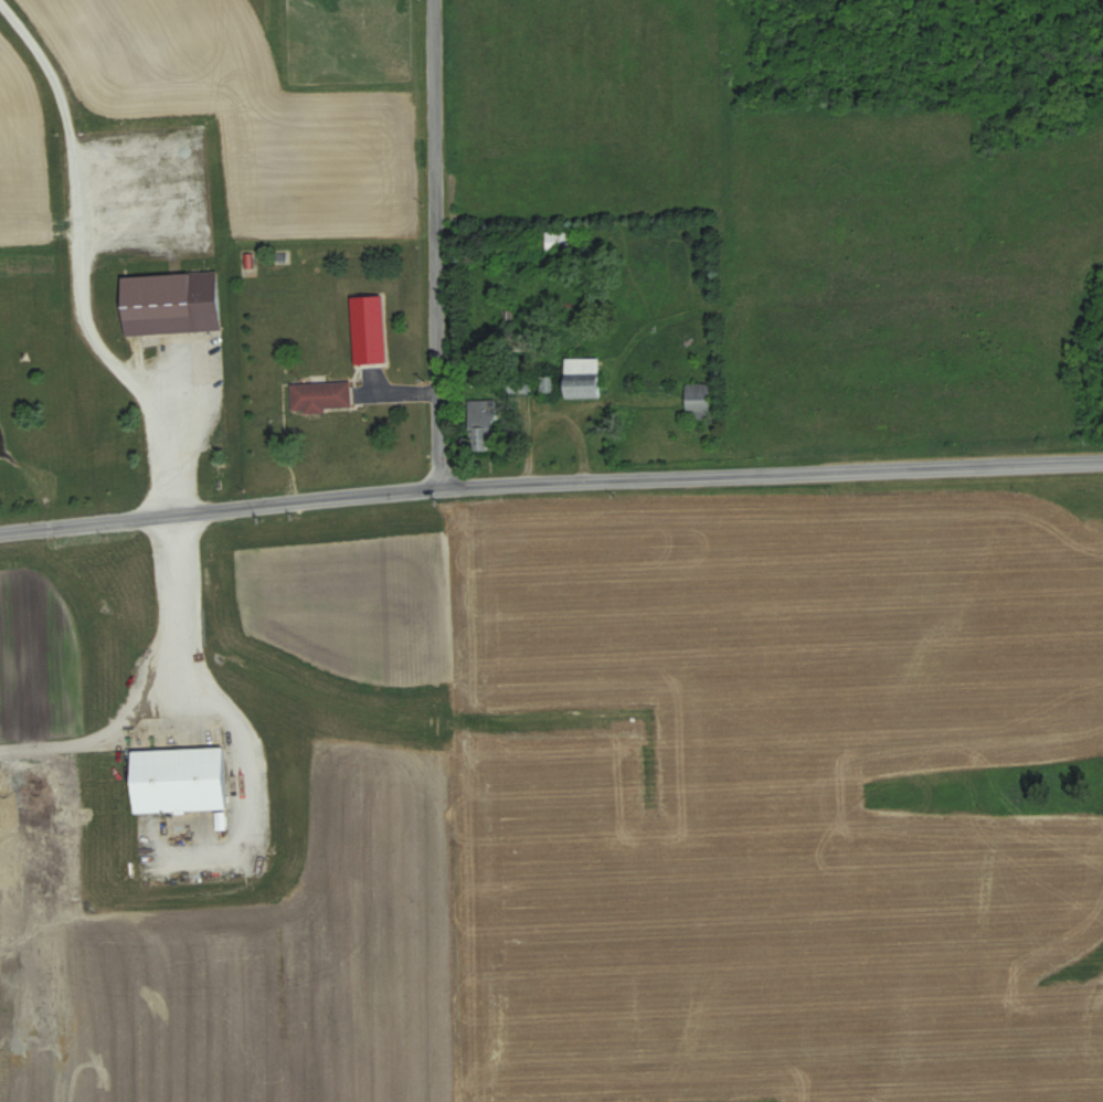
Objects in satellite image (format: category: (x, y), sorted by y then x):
road: (74, 222)
building: (556, 241)
road: (433, 242)
building: (170, 301)
building: (582, 377)
building: (320, 395)
building: (698, 398)
road: (556, 414)
building: (481, 422)
road: (172, 432)
road: (550, 479)
road: (146, 679)
building: (178, 780)

